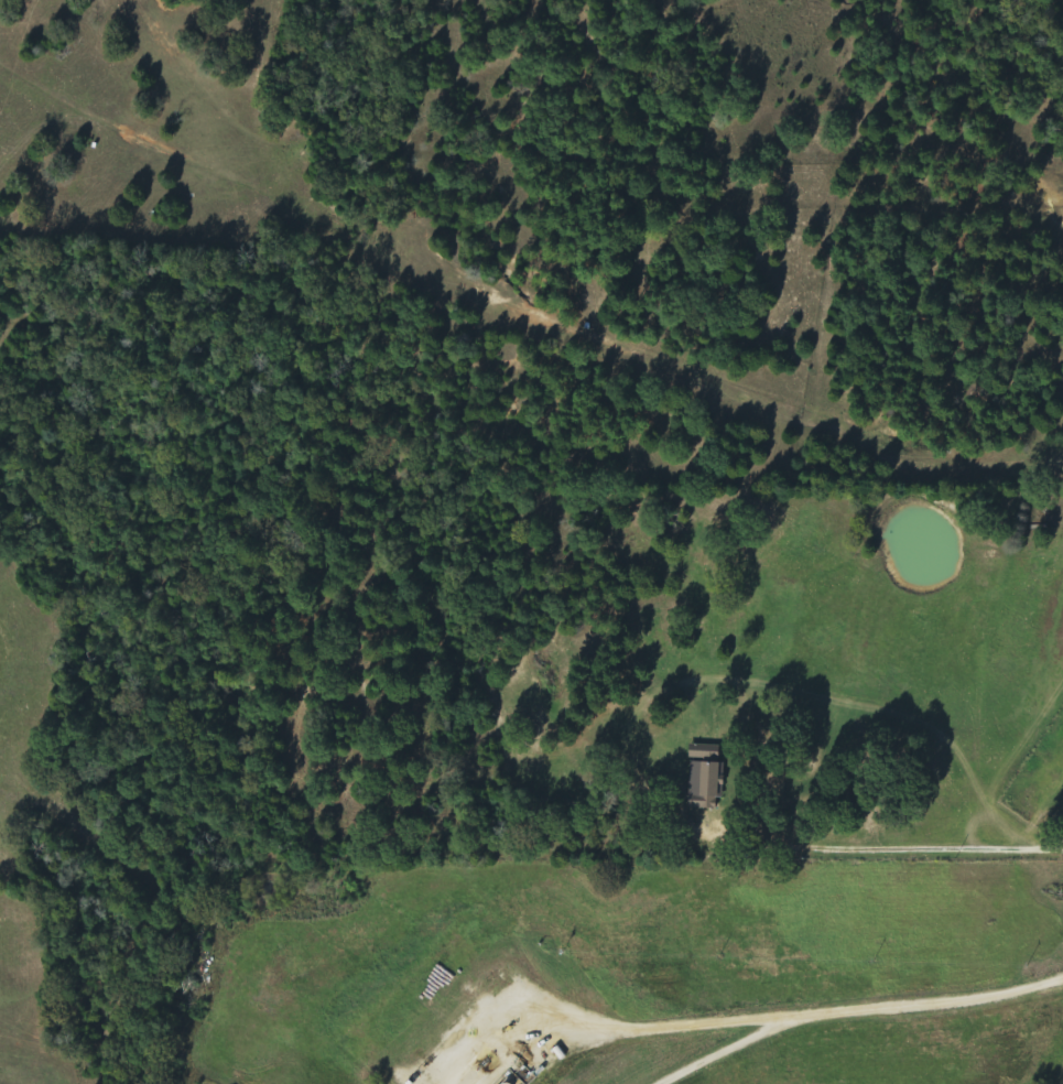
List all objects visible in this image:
building: (705, 778)

